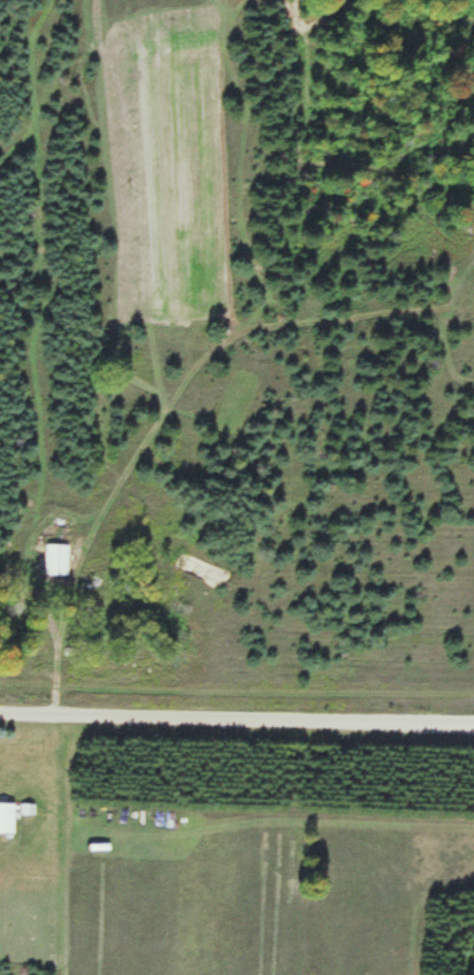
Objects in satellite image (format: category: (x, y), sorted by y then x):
building: (56, 558)
building: (133, 673)
road: (237, 716)
building: (6, 817)

